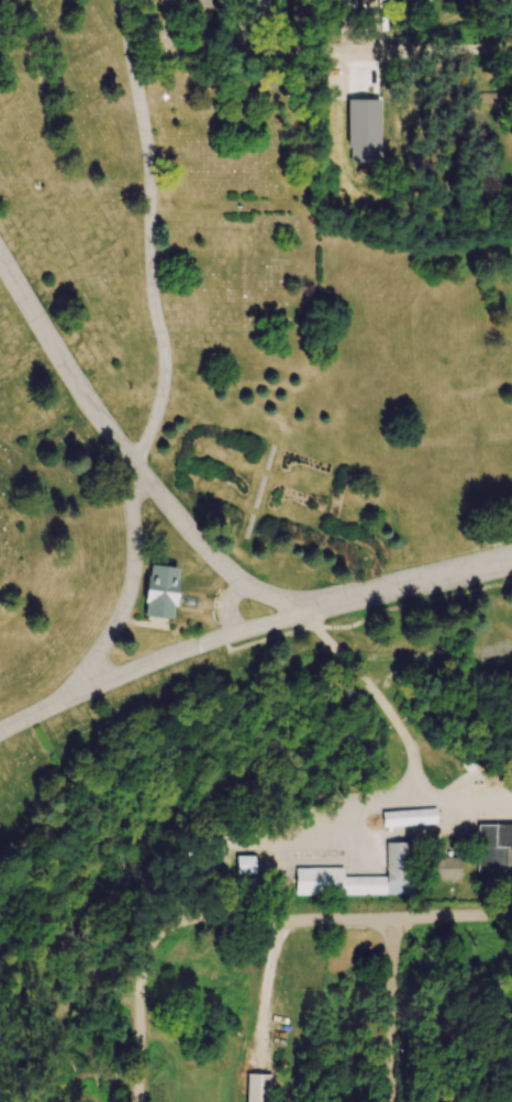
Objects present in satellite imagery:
building: (181, 3)
building: (341, 3)
building: (258, 7)
road: (321, 54)
park: (224, 372)
road: (160, 395)
road: (121, 449)
road: (390, 588)
building: (159, 592)
road: (166, 657)
road: (402, 732)
building: (408, 817)
building: (494, 847)
building: (244, 864)
building: (446, 869)
building: (358, 877)
road: (335, 919)
road: (389, 1010)
road: (140, 1013)
building: (257, 1088)

